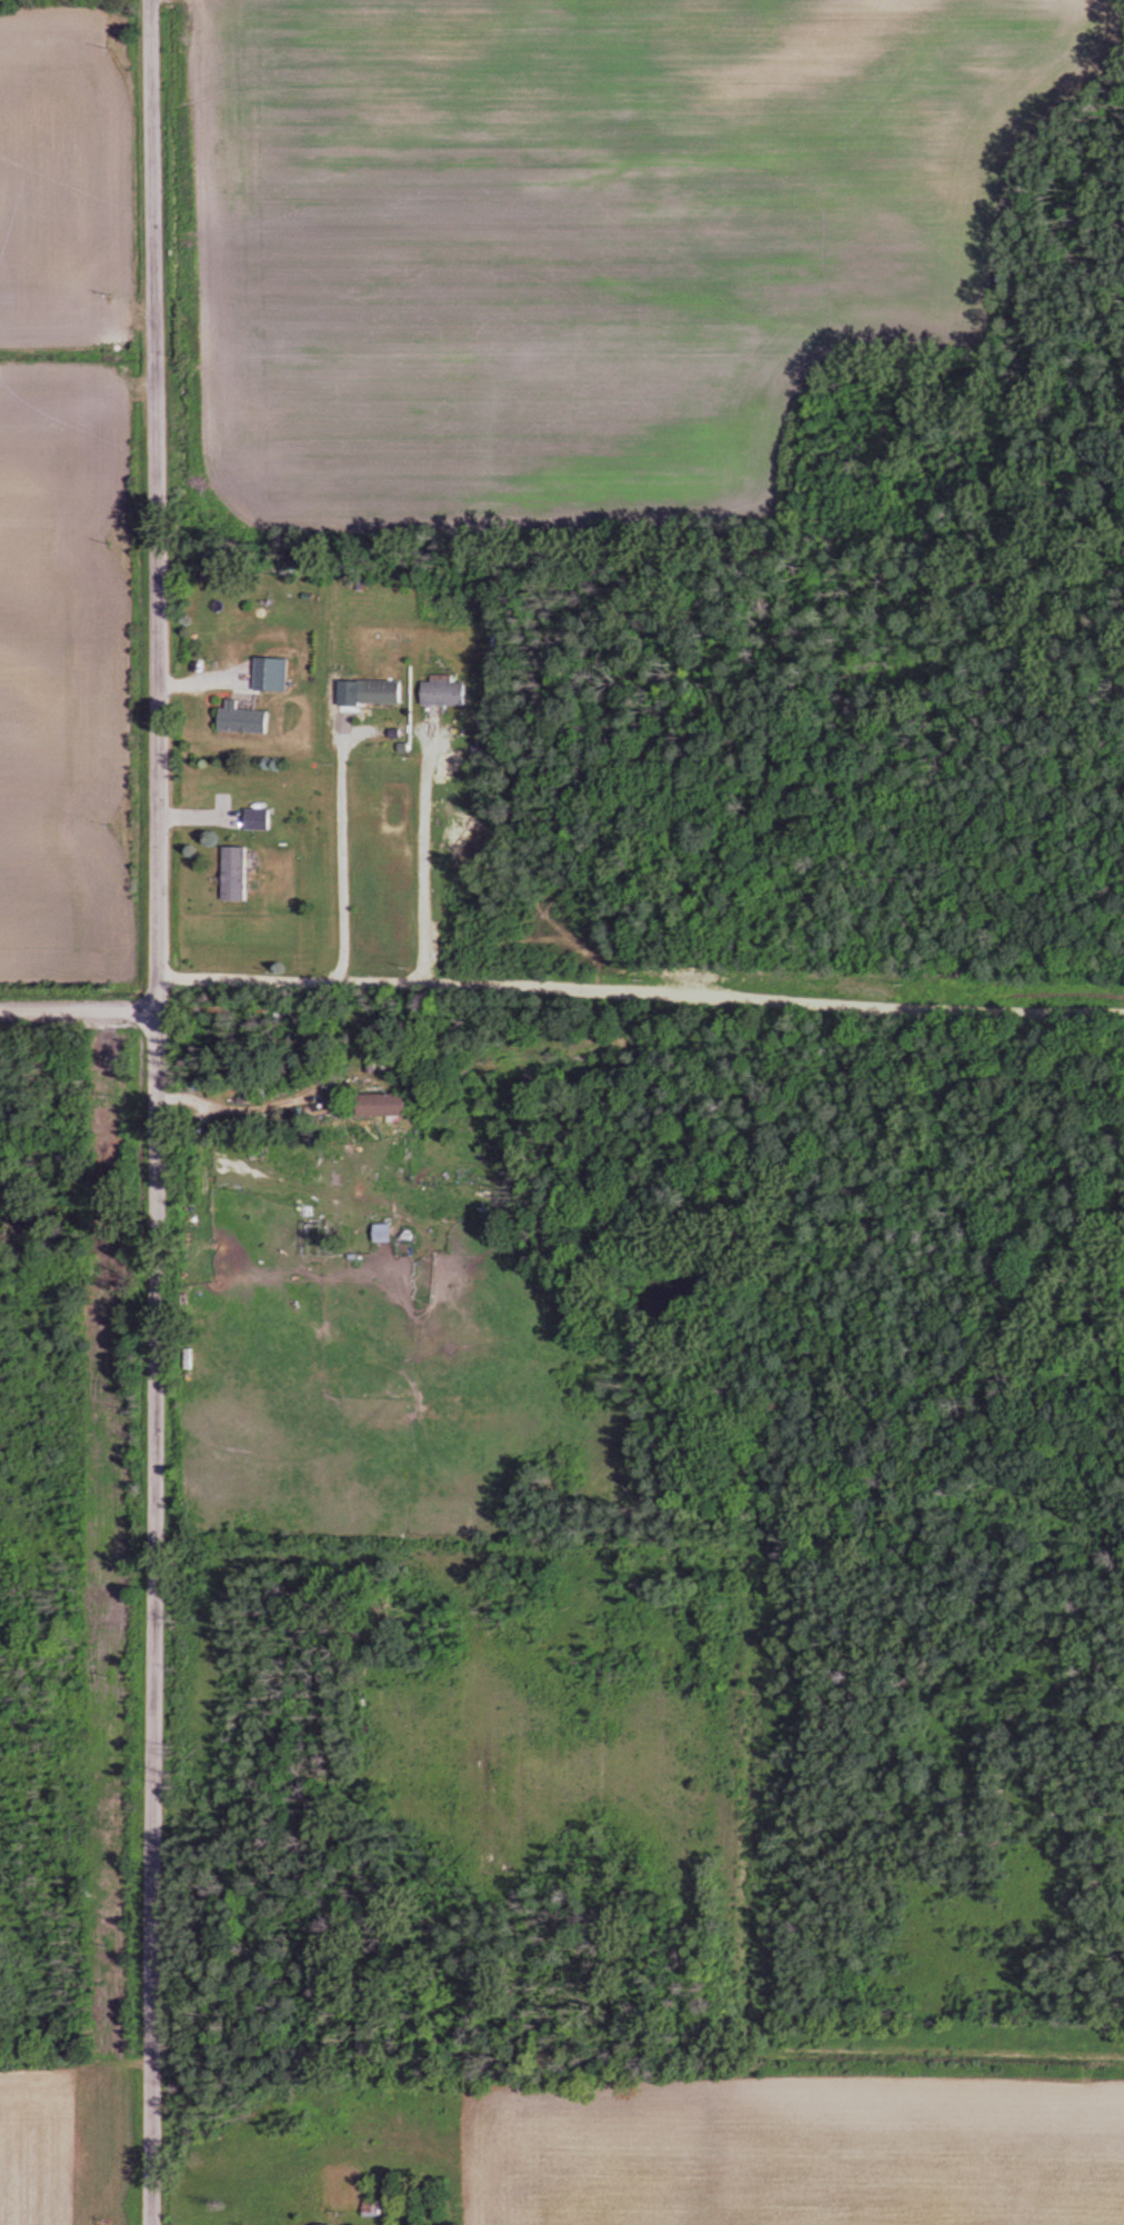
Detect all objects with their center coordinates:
building: (385, 692)
building: (449, 695)
building: (248, 719)
building: (259, 820)
road: (422, 856)
road: (339, 857)
building: (238, 874)
road: (640, 989)
road: (78, 1008)
building: (265, 1087)
building: (393, 1102)
road: (263, 1104)
road: (154, 1111)
building: (384, 1233)

